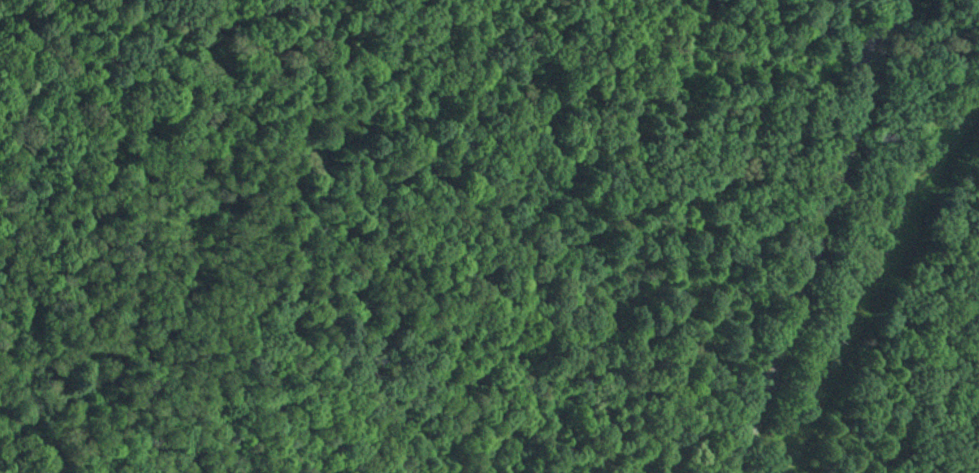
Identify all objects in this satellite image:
road: (801, 231)

